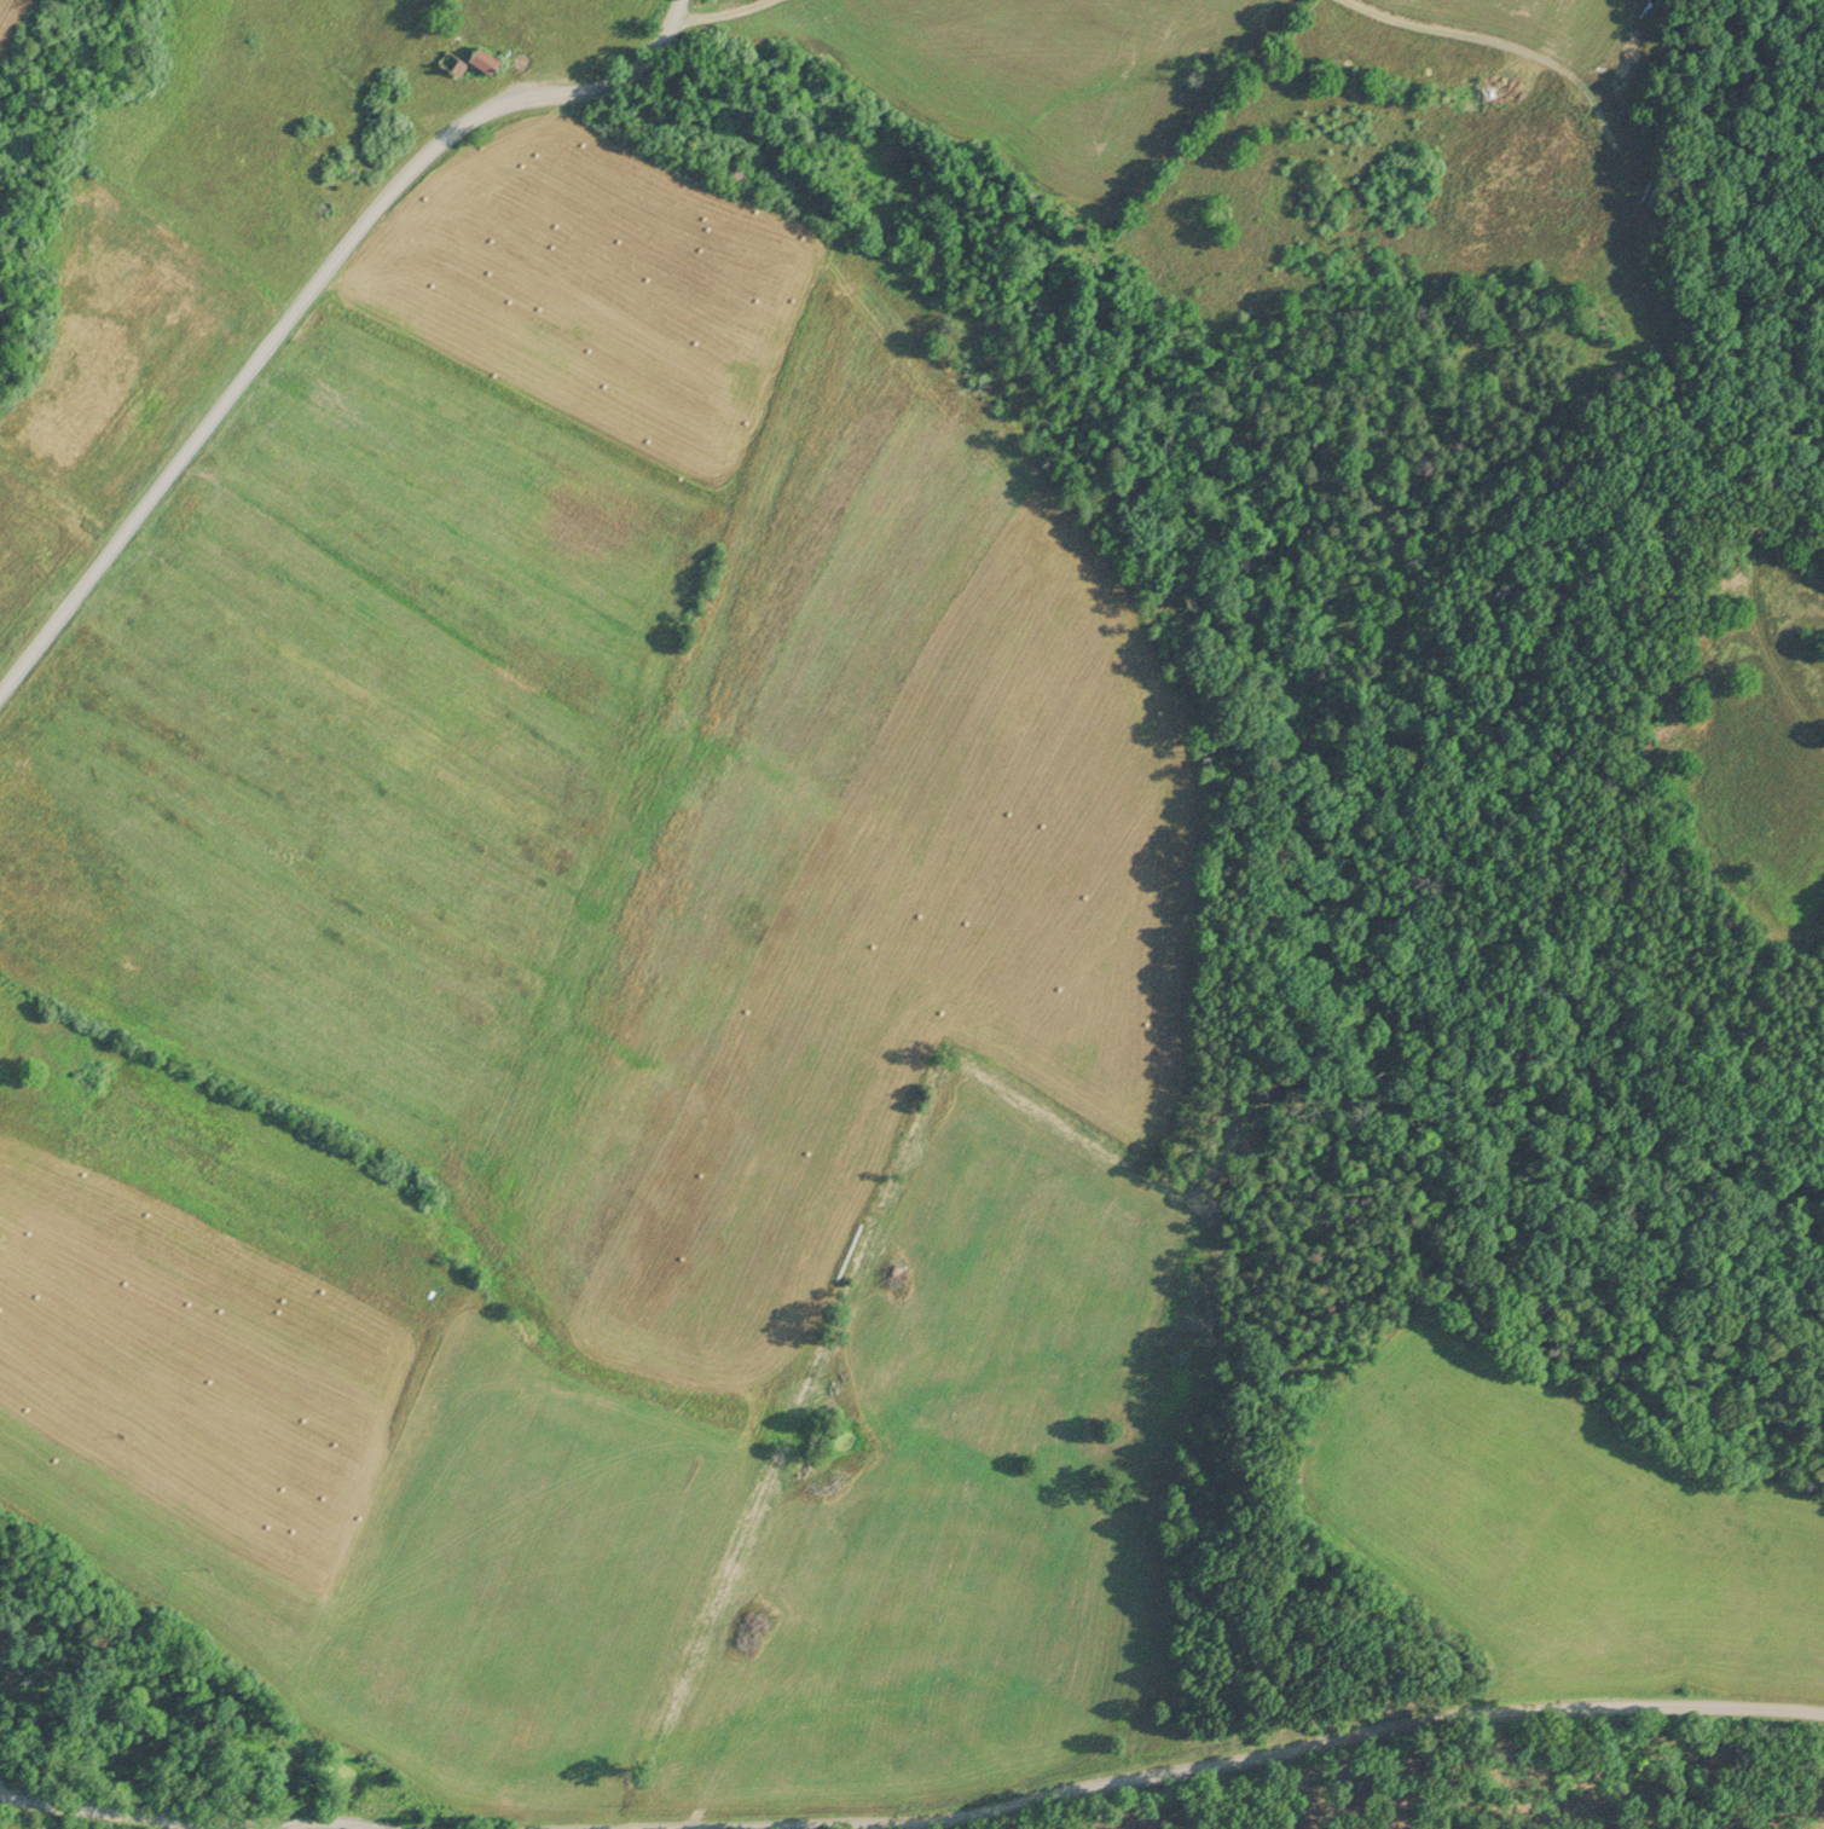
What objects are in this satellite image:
building: (487, 56)
building: (454, 59)
road: (306, 301)
road: (1263, 1754)
road: (102, 1808)
road: (288, 1823)
road: (351, 1825)

